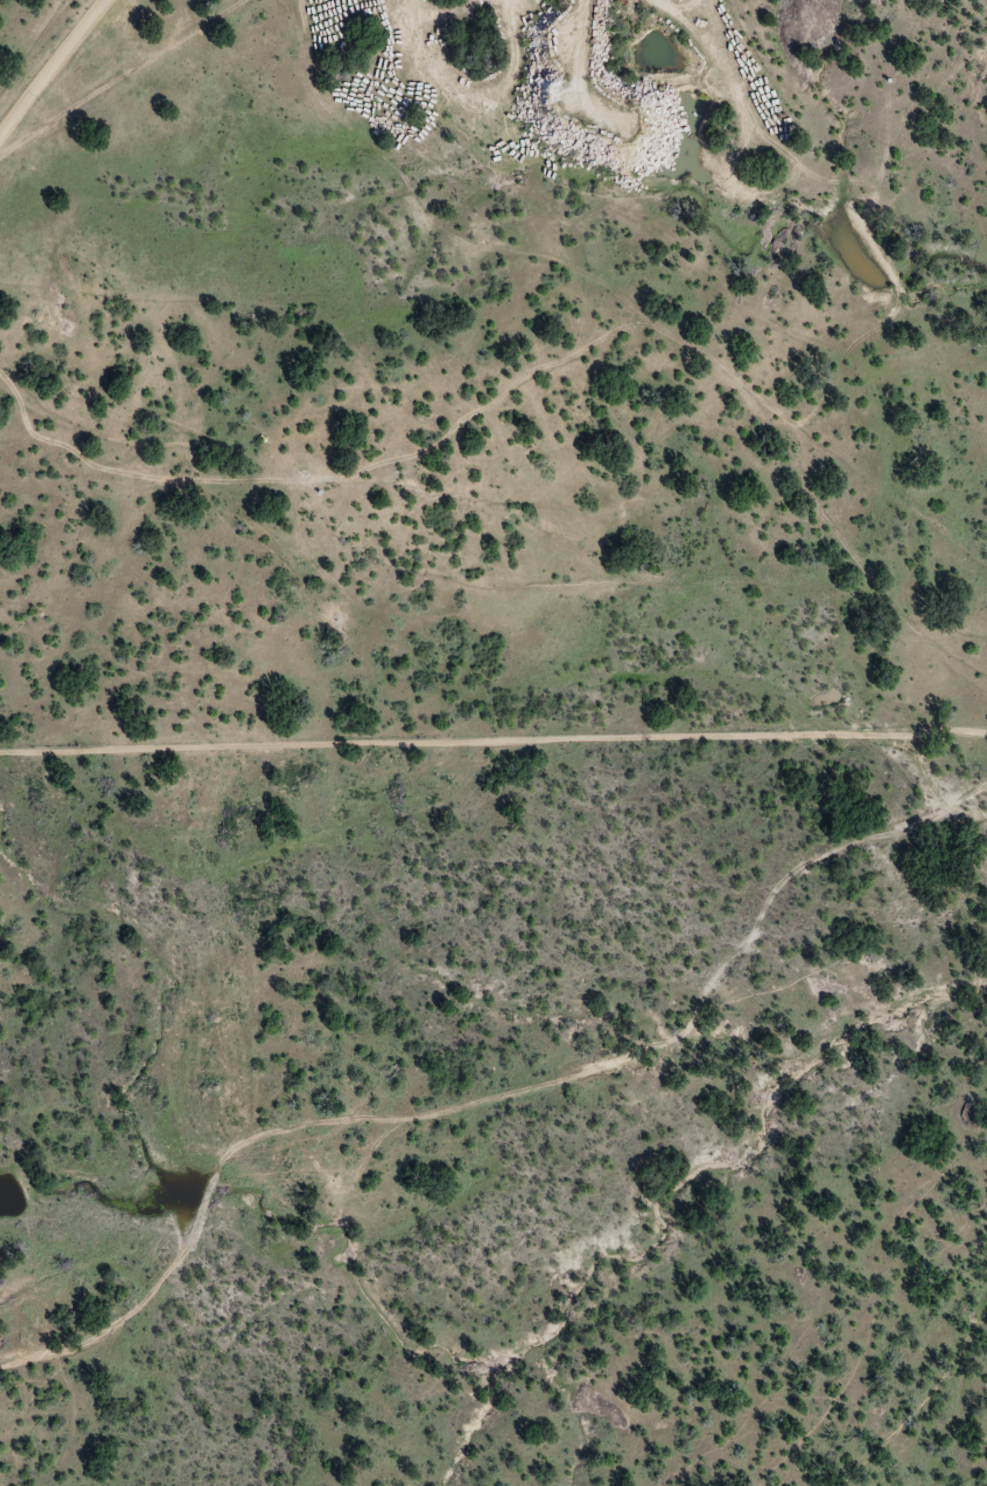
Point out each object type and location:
road: (52, 66)
quarry: (578, 98)

